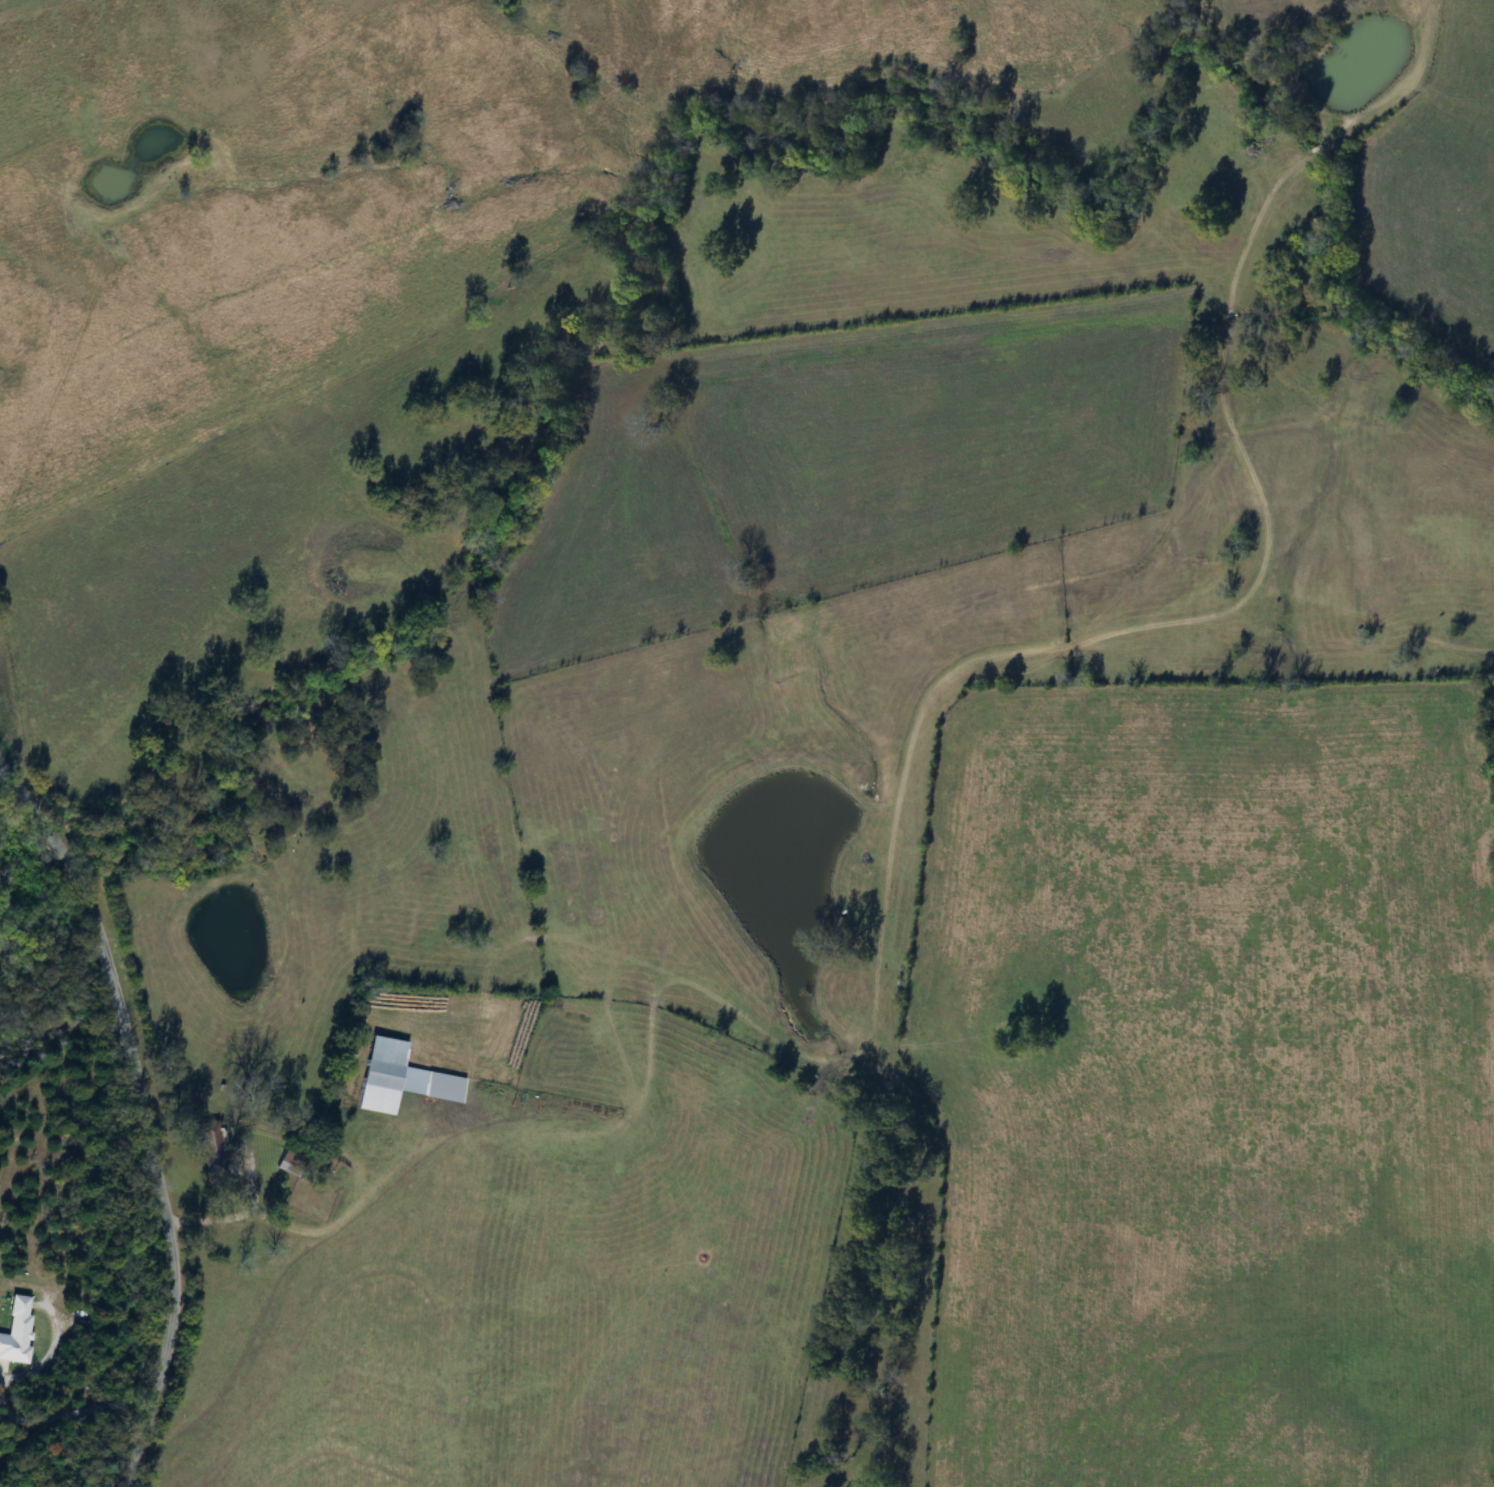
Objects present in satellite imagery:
road: (39, 810)
road: (89, 887)
building: (397, 1079)
road: (163, 1201)
road: (234, 1214)
road: (70, 1411)

